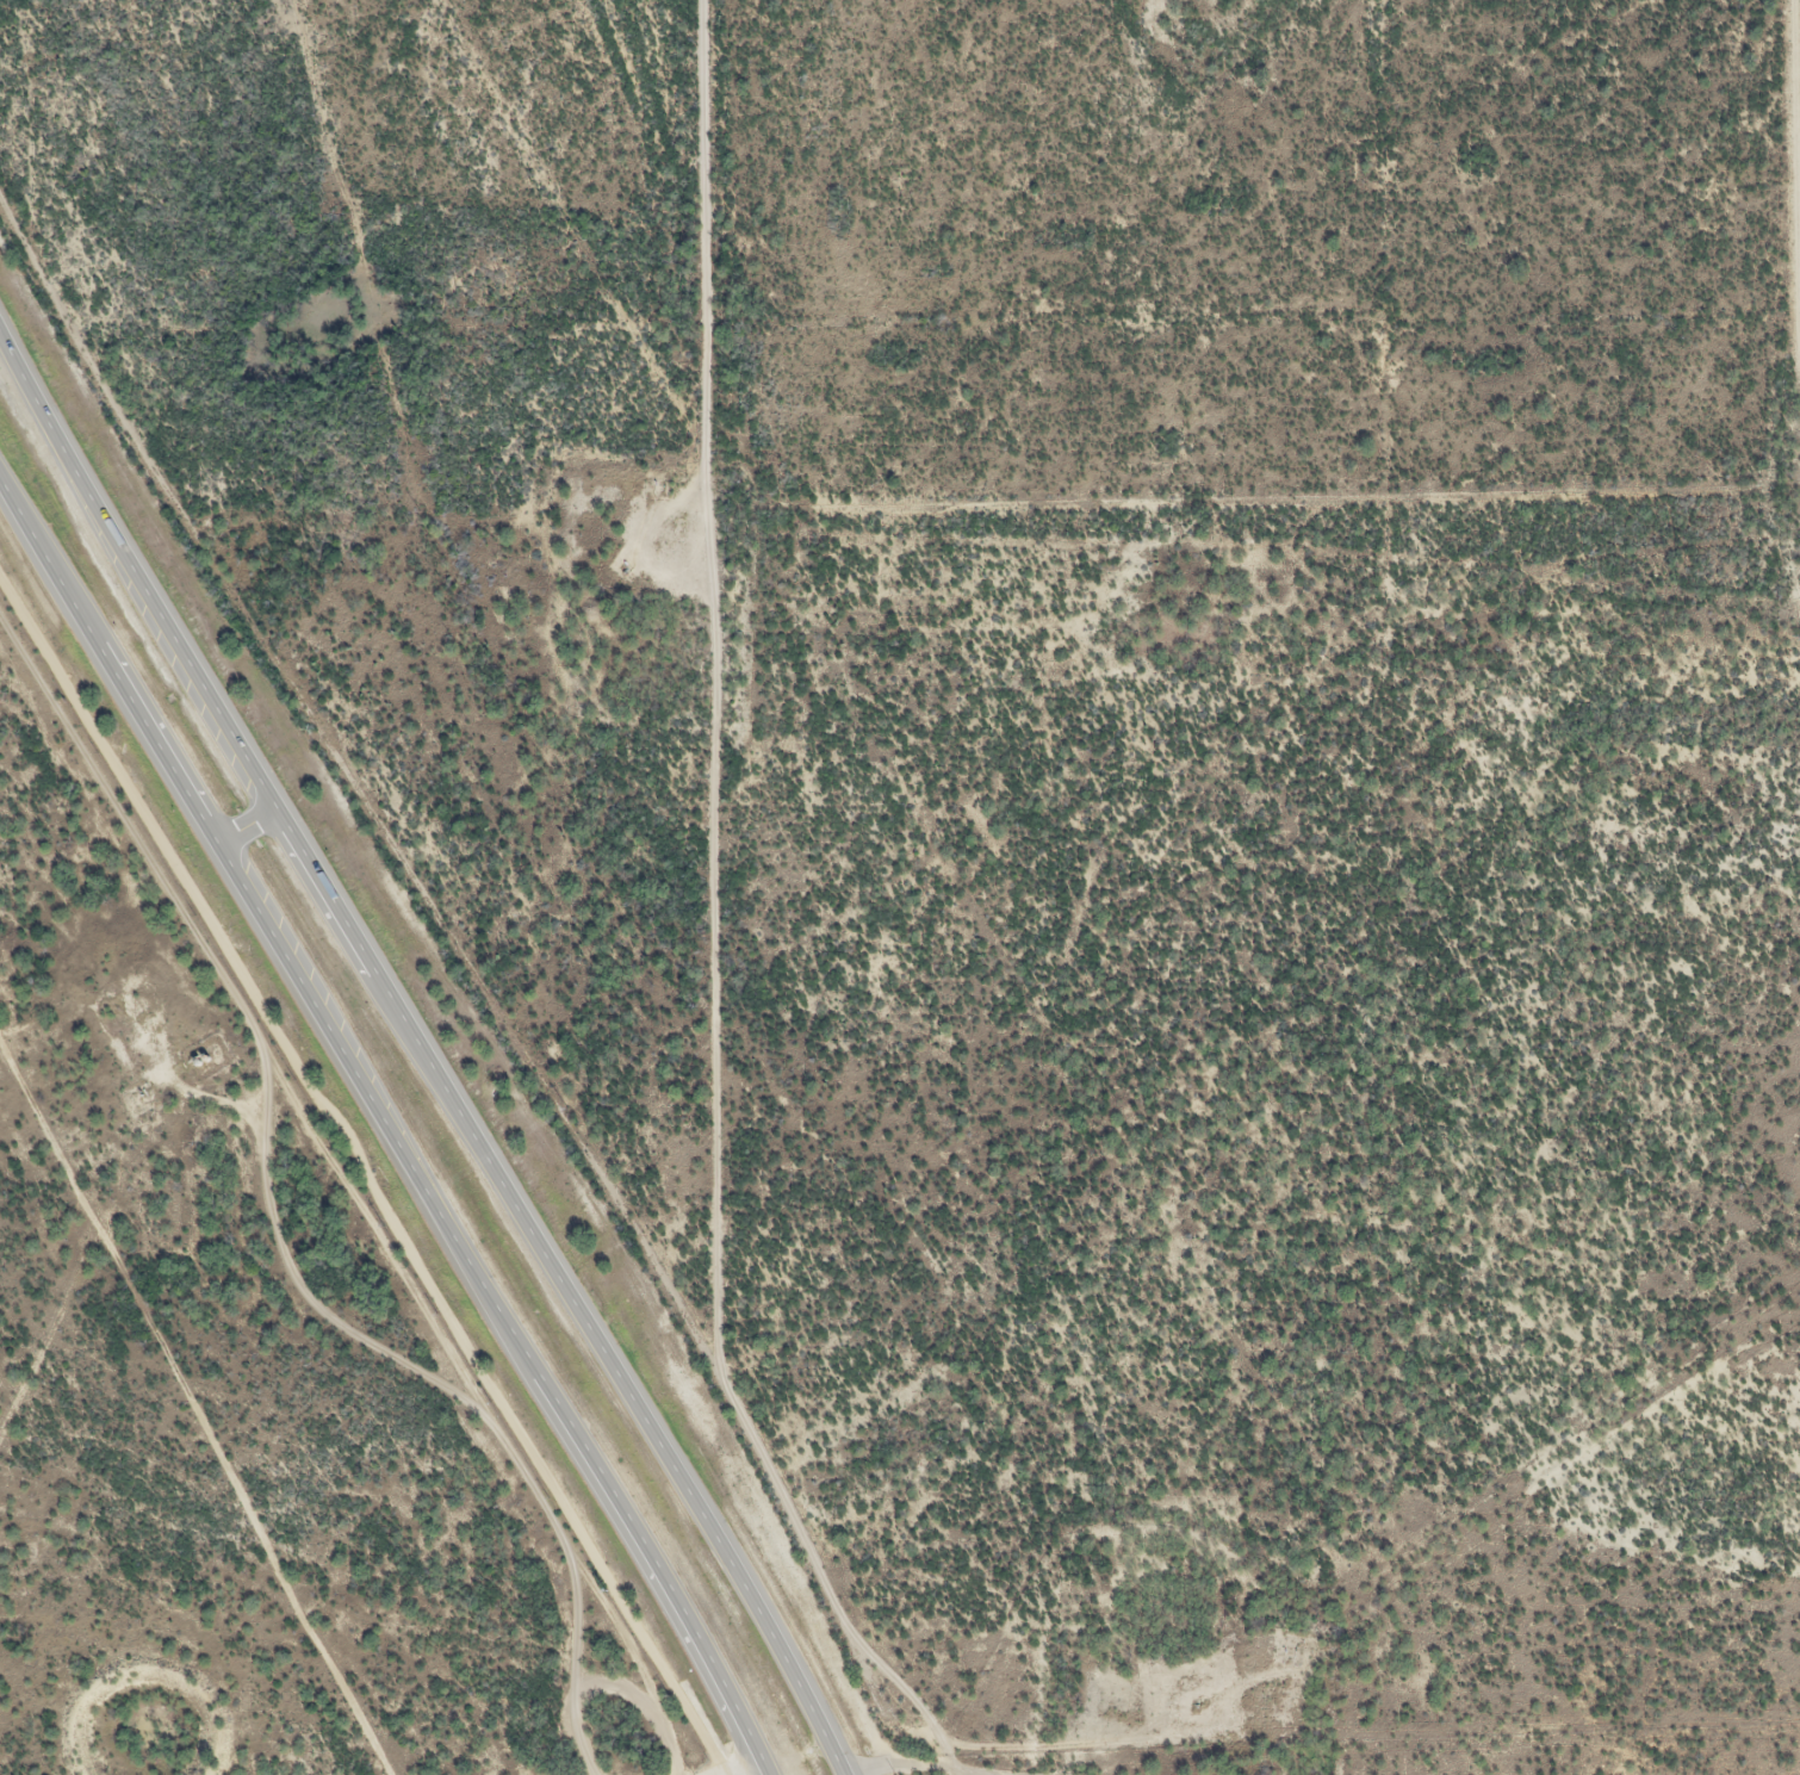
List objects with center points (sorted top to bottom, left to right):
road: (428, 1047)
road: (381, 1137)

